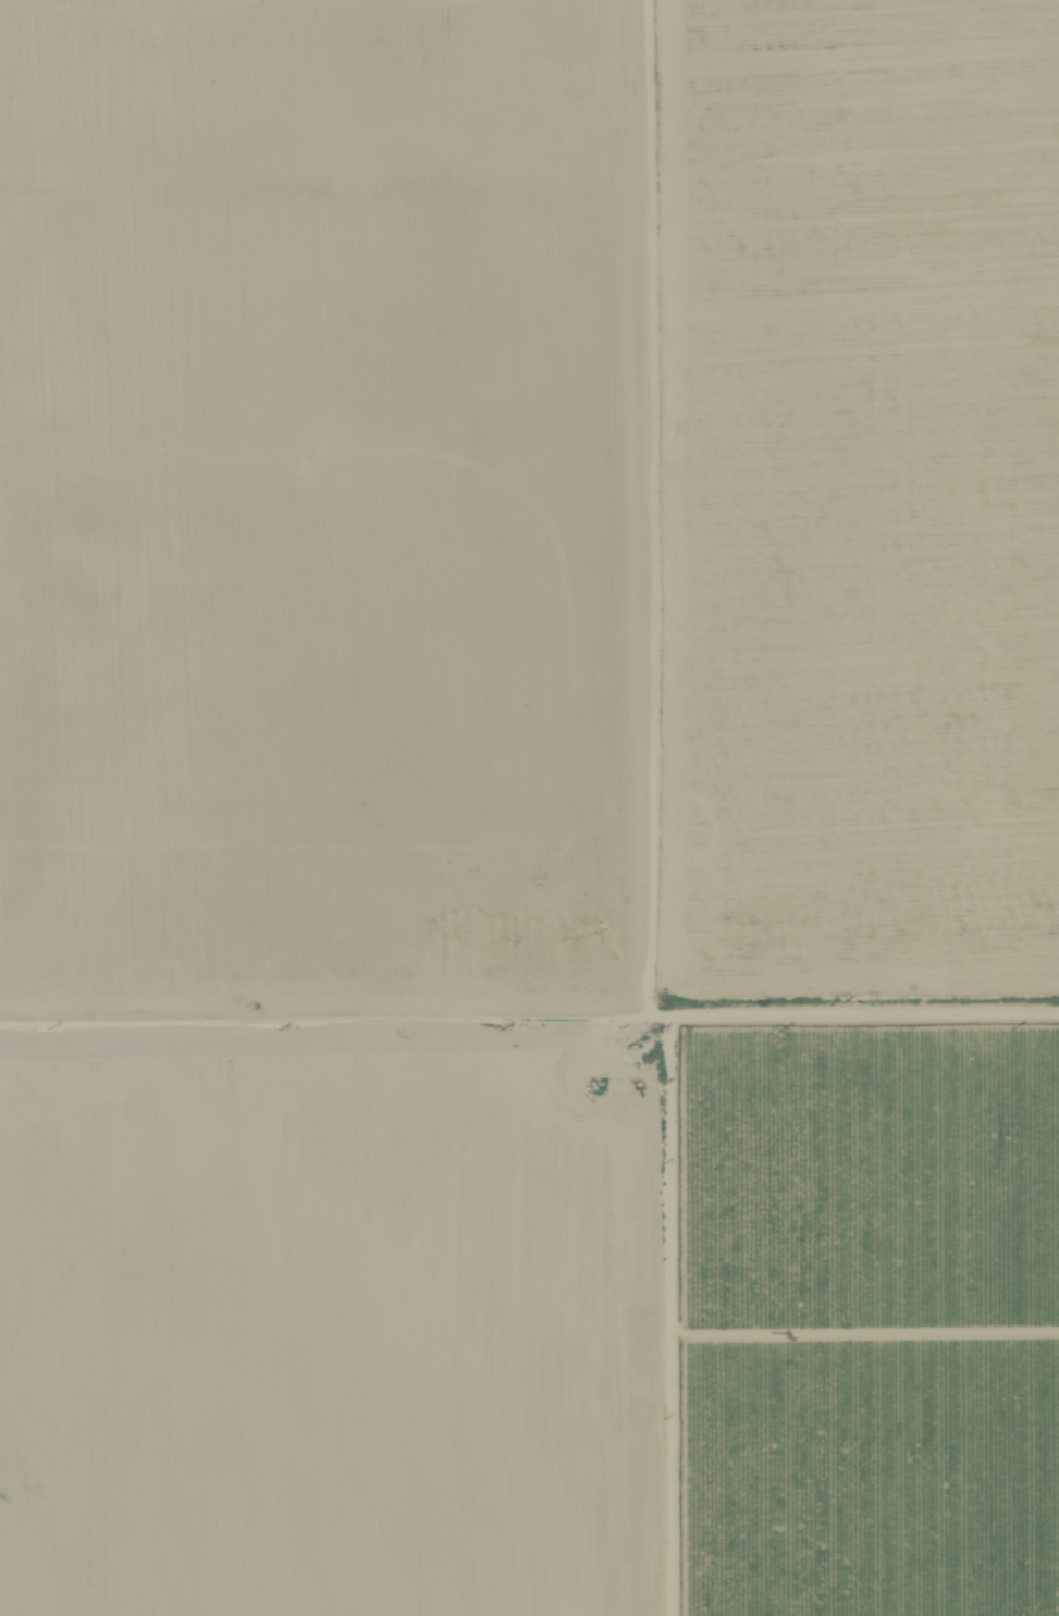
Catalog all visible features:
road: (529, 188)
road: (639, 513)
road: (529, 1026)
road: (673, 1321)

